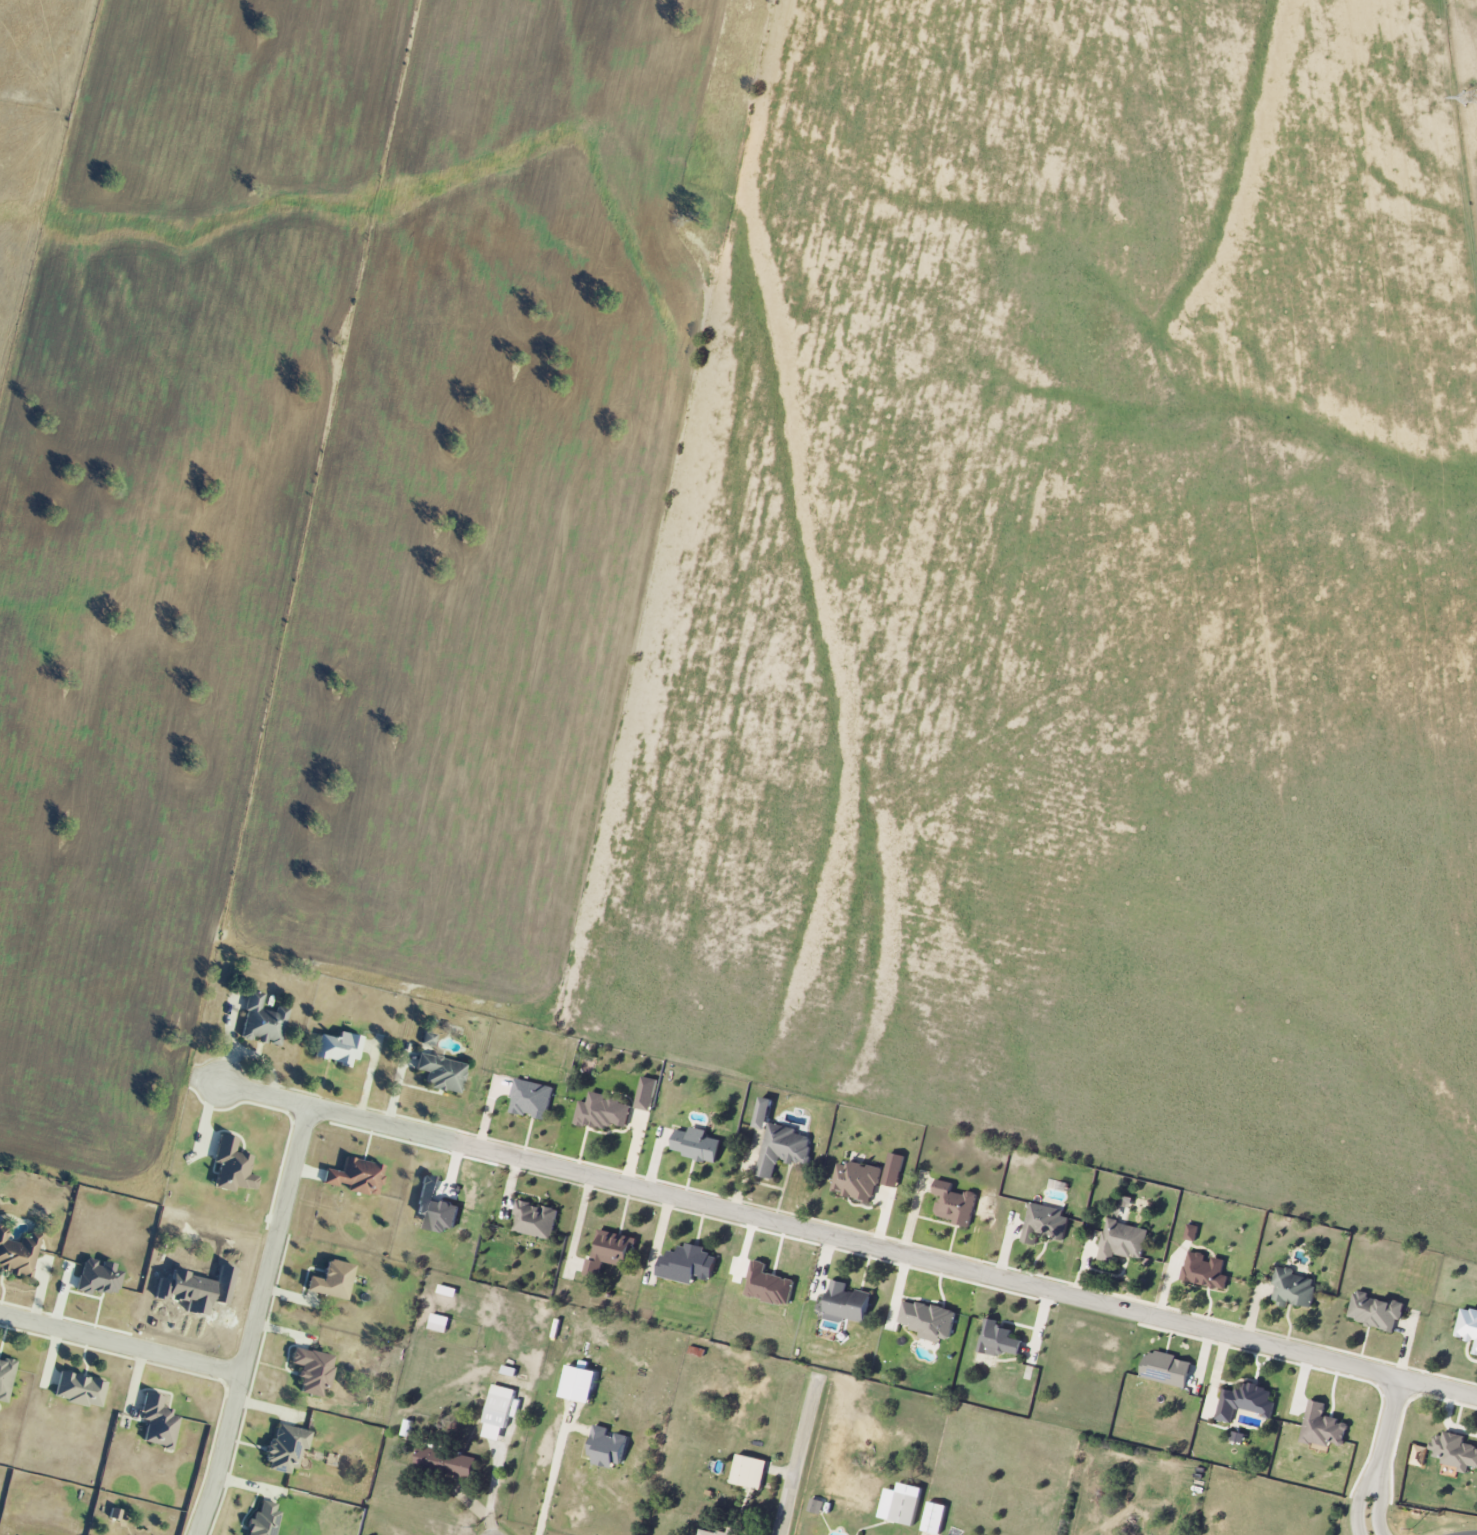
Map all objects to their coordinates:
power tower: (1473, 99)
building: (262, 1022)
building: (428, 1039)
building: (339, 1048)
building: (441, 1073)
building: (647, 1093)
building: (532, 1099)
building: (603, 1112)
building: (764, 1113)
building: (698, 1145)
building: (783, 1149)
building: (232, 1166)
building: (894, 1169)
building: (356, 1176)
building: (857, 1180)
building: (955, 1203)
building: (435, 1208)
building: (535, 1220)
building: (1045, 1223)
building: (1193, 1232)
road: (848, 1241)
building: (1122, 1241)
building: (611, 1250)
building: (17, 1252)
building: (688, 1264)
building: (1206, 1270)
building: (98, 1278)
building: (332, 1280)
building: (770, 1285)
building: (1294, 1288)
building: (448, 1291)
building: (847, 1304)
building: (1375, 1311)
building: (928, 1320)
road: (255, 1321)
building: (440, 1323)
building: (1468, 1325)
building: (999, 1339)
road: (121, 1344)
building: (1167, 1369)
building: (312, 1370)
building: (5, 1378)
building: (580, 1384)
building: (79, 1390)
building: (1246, 1401)
building: (498, 1413)
building: (157, 1422)
road: (1388, 1426)
building: (1322, 1427)
building: (1239, 1437)
building: (609, 1447)
building: (285, 1448)
building: (1454, 1451)
road: (801, 1456)
building: (447, 1462)
building: (750, 1472)
road: (553, 1476)
road: (493, 1478)
road: (1357, 1501)
road: (1380, 1504)
building: (816, 1506)
building: (900, 1507)
building: (114, 1514)
building: (935, 1518)
building: (264, 1520)
building: (707, 1532)

